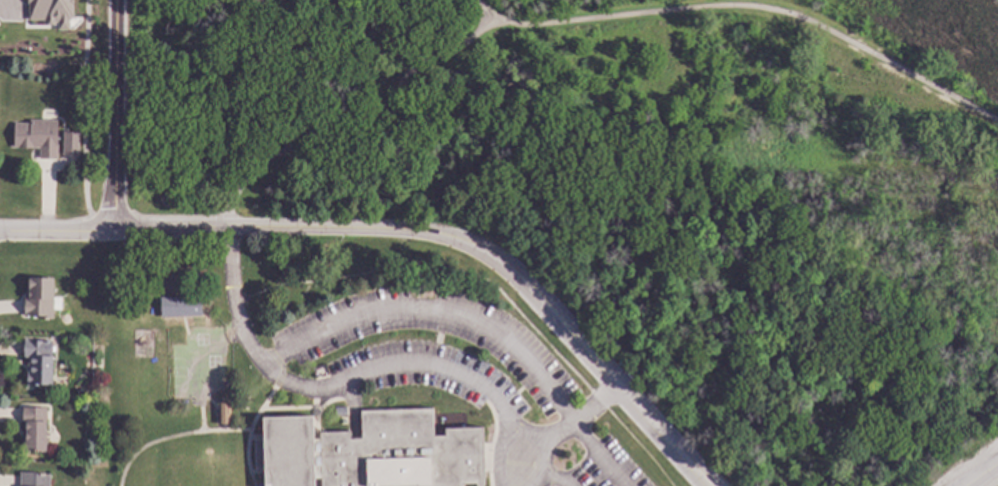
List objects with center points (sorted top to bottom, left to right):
road: (745, 7)
building: (50, 12)
road: (119, 114)
road: (353, 120)
building: (37, 138)
building: (69, 143)
park: (644, 191)
road: (202, 227)
road: (432, 268)
building: (38, 299)
building: (179, 306)
road: (434, 308)
road: (568, 336)
building: (37, 362)
road: (282, 367)
road: (383, 368)
road: (598, 398)
building: (223, 412)
building: (340, 412)
building: (34, 430)
road: (248, 433)
road: (172, 436)
road: (491, 441)
road: (639, 447)
building: (369, 452)
road: (604, 452)
road: (540, 464)
road: (981, 473)
road: (554, 474)
building: (33, 479)

